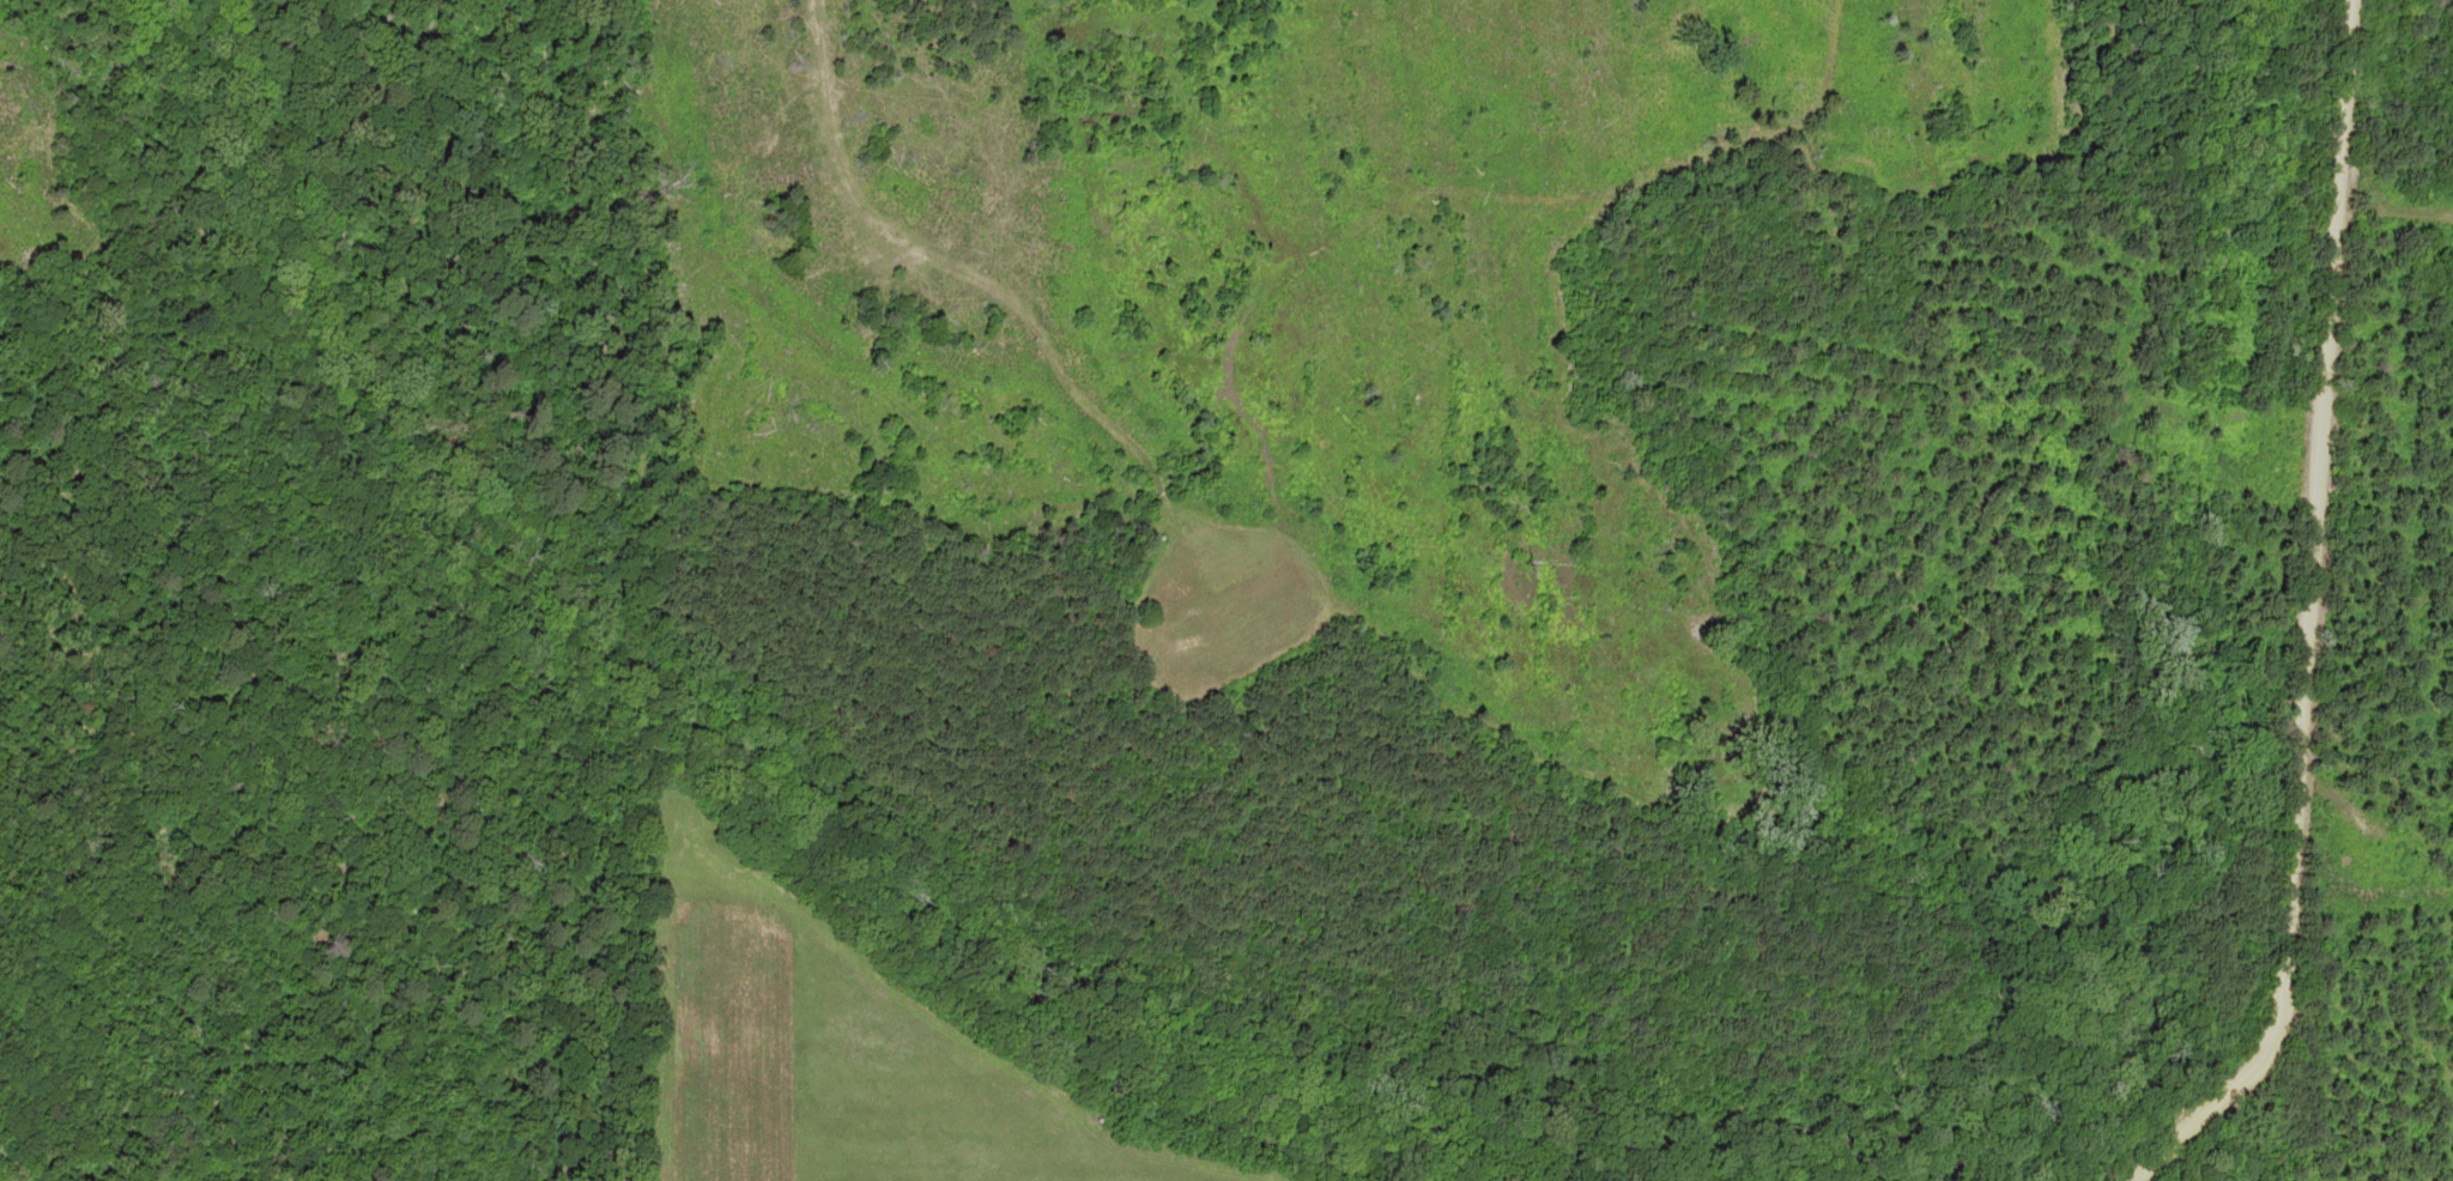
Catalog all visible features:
road: (2297, 605)

